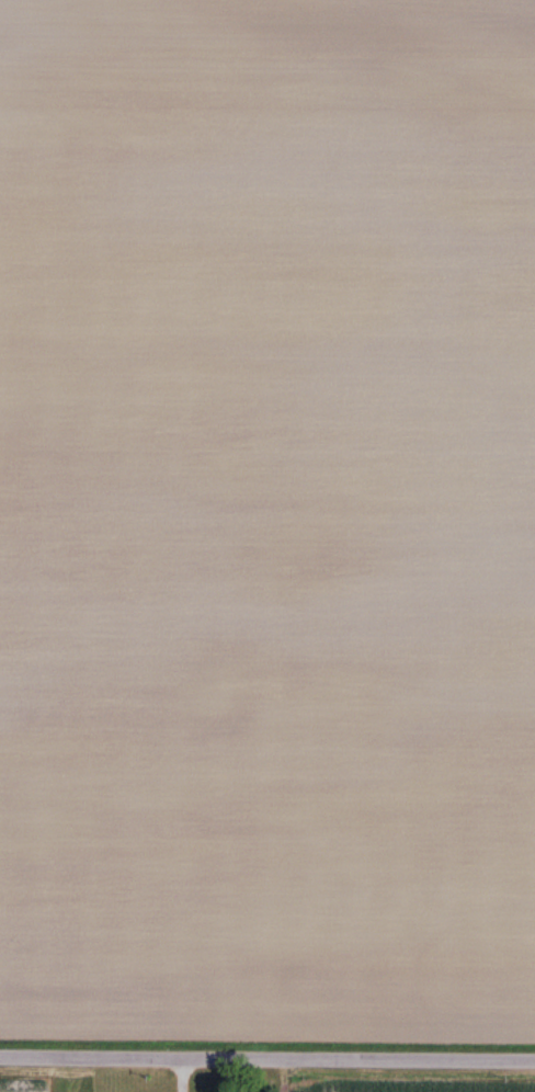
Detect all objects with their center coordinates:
road: (267, 1053)

